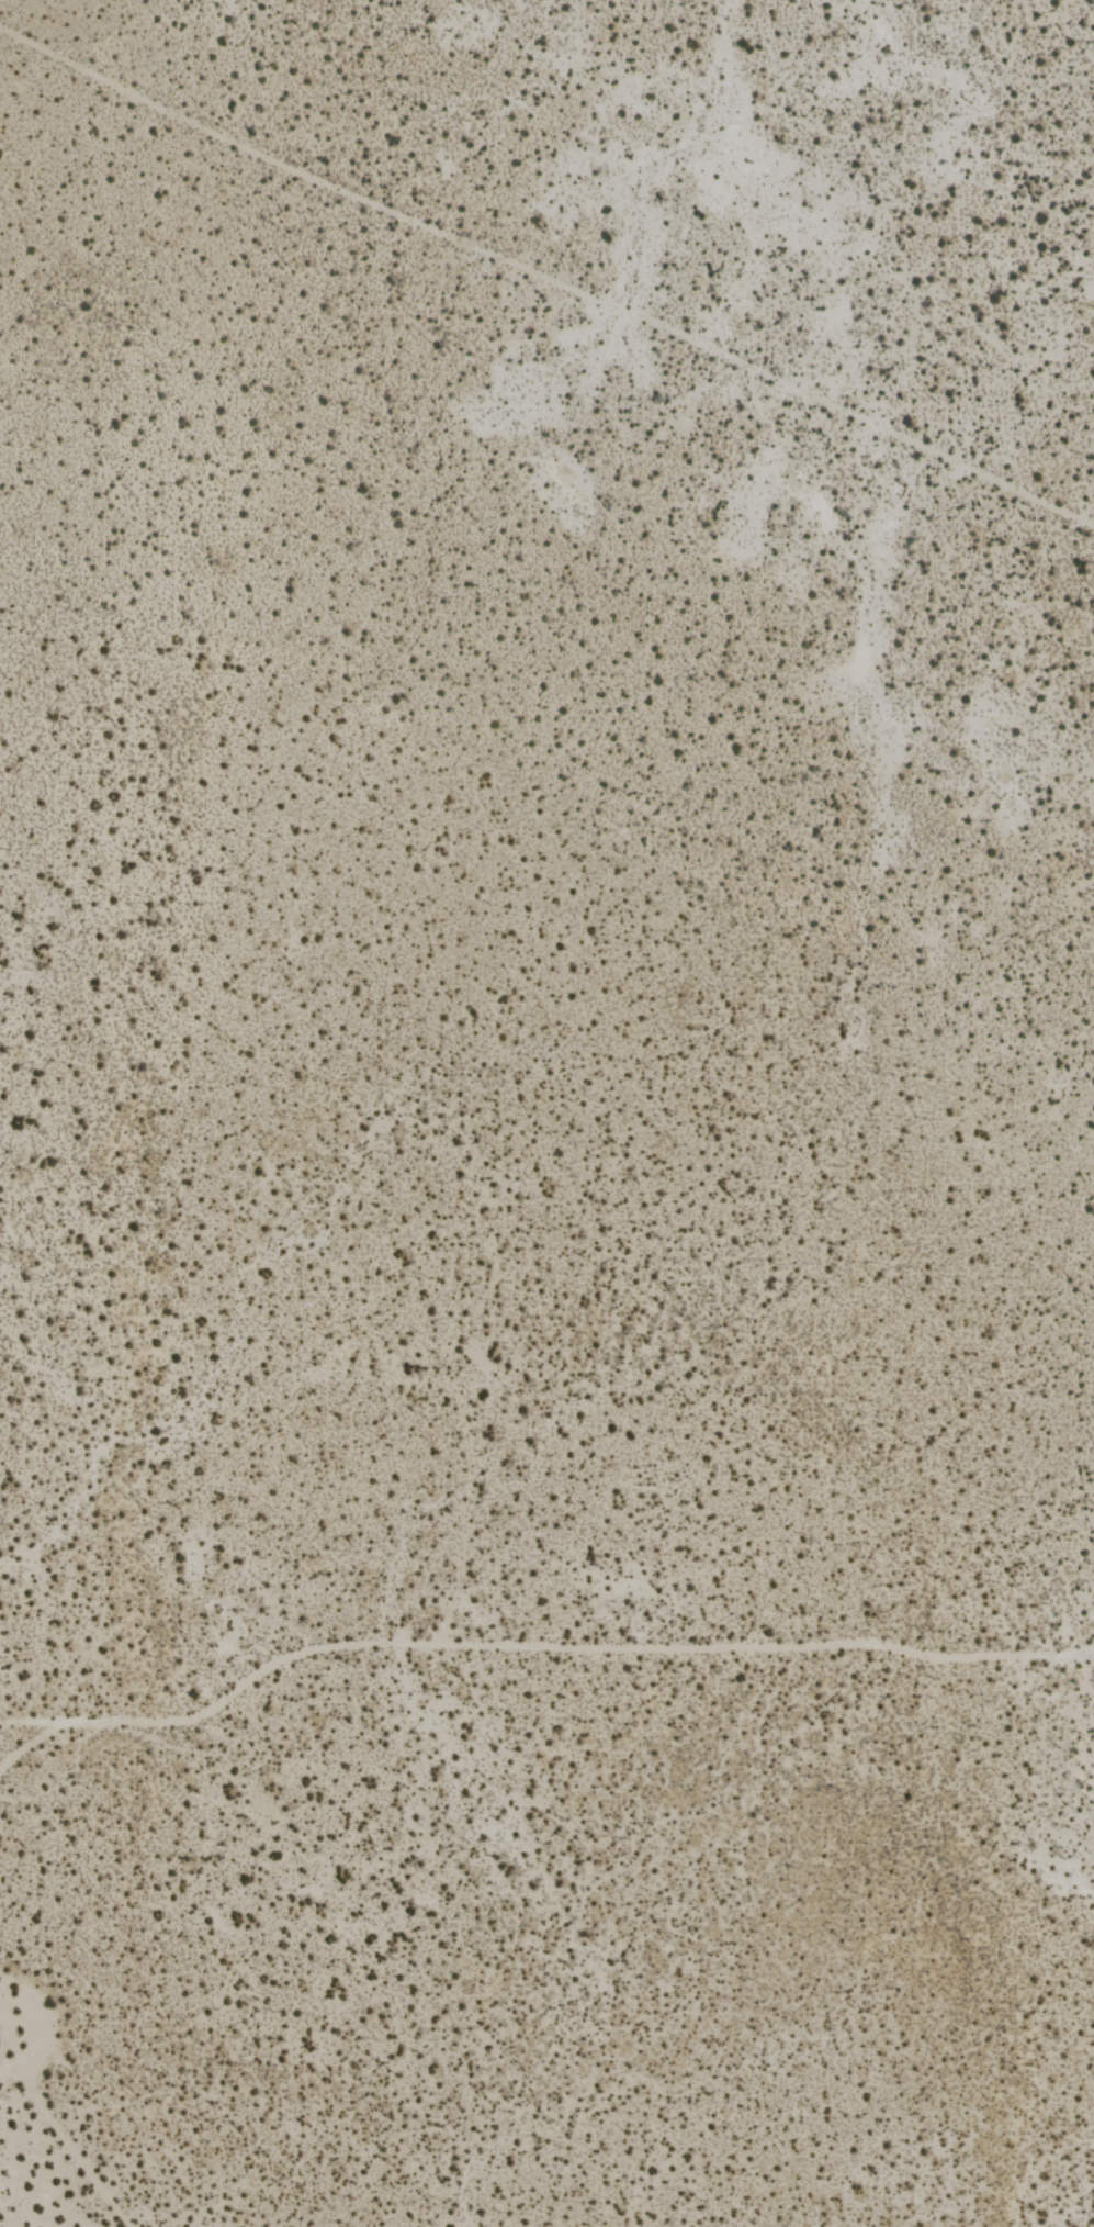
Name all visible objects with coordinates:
airport: (546, 1113)

